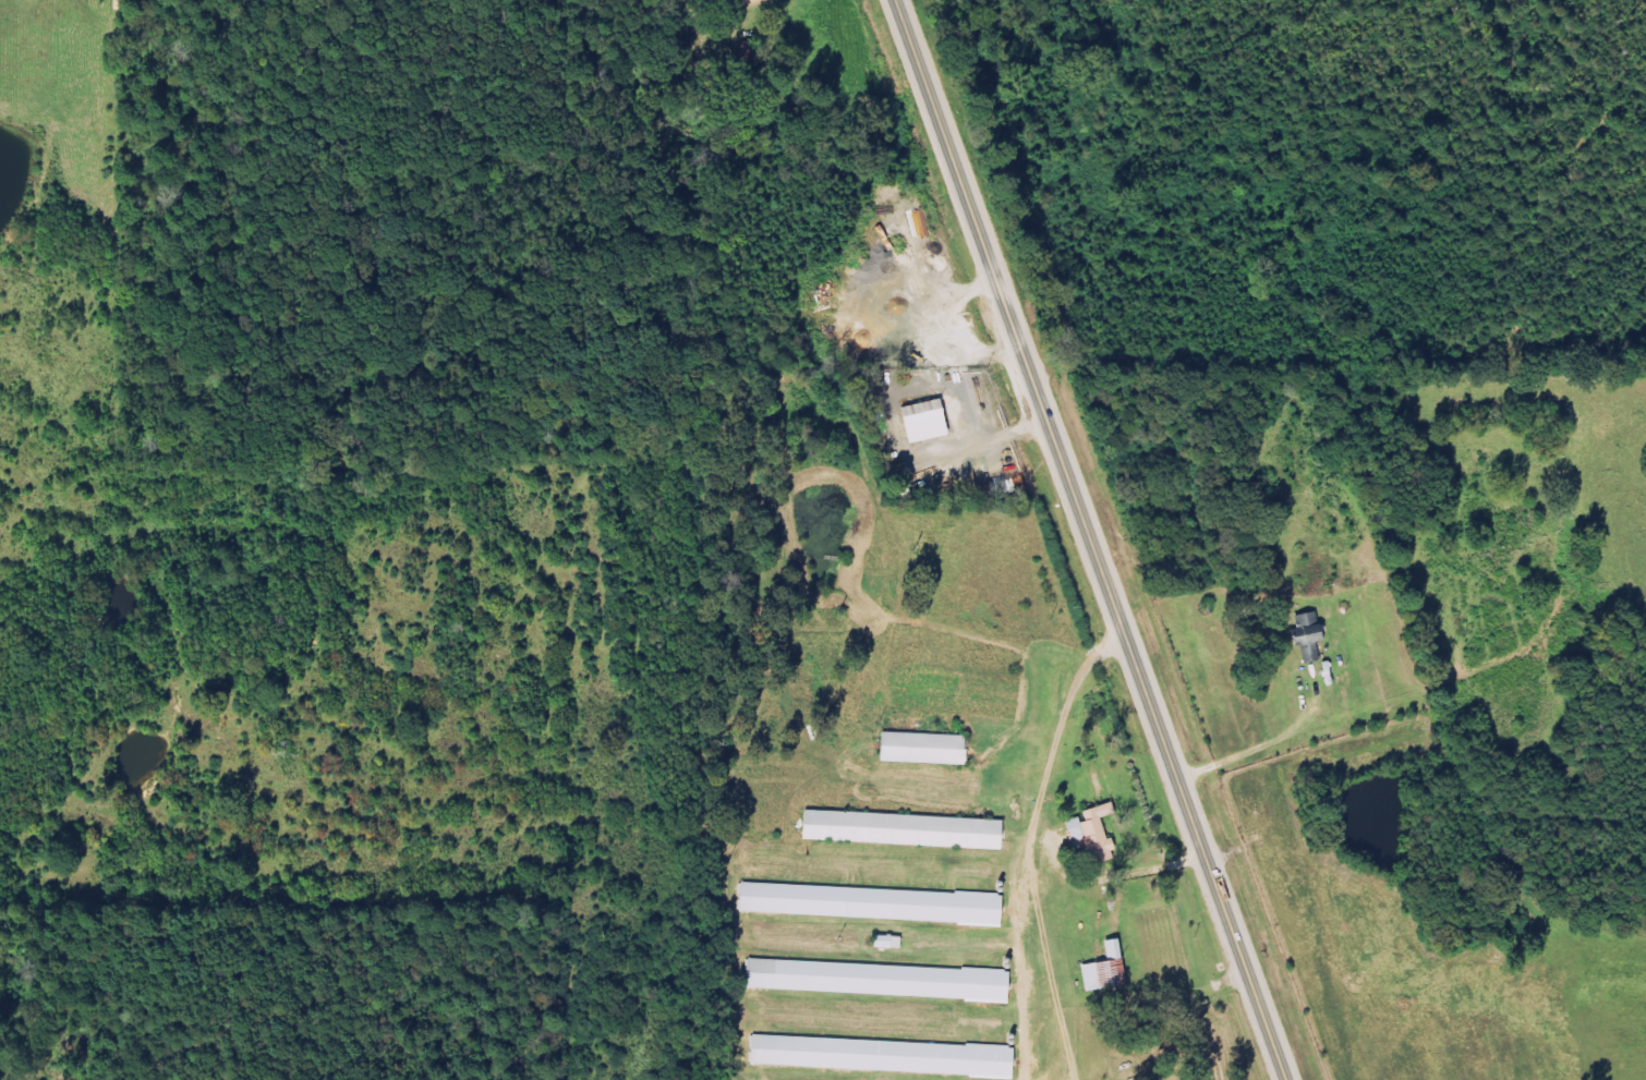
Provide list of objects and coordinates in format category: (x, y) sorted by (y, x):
building: (923, 421)
road: (1085, 539)
building: (1307, 638)
building: (930, 748)
building: (910, 829)
building: (1100, 833)
building: (878, 902)
building: (894, 942)
building: (1112, 969)
building: (884, 980)
building: (888, 1055)

